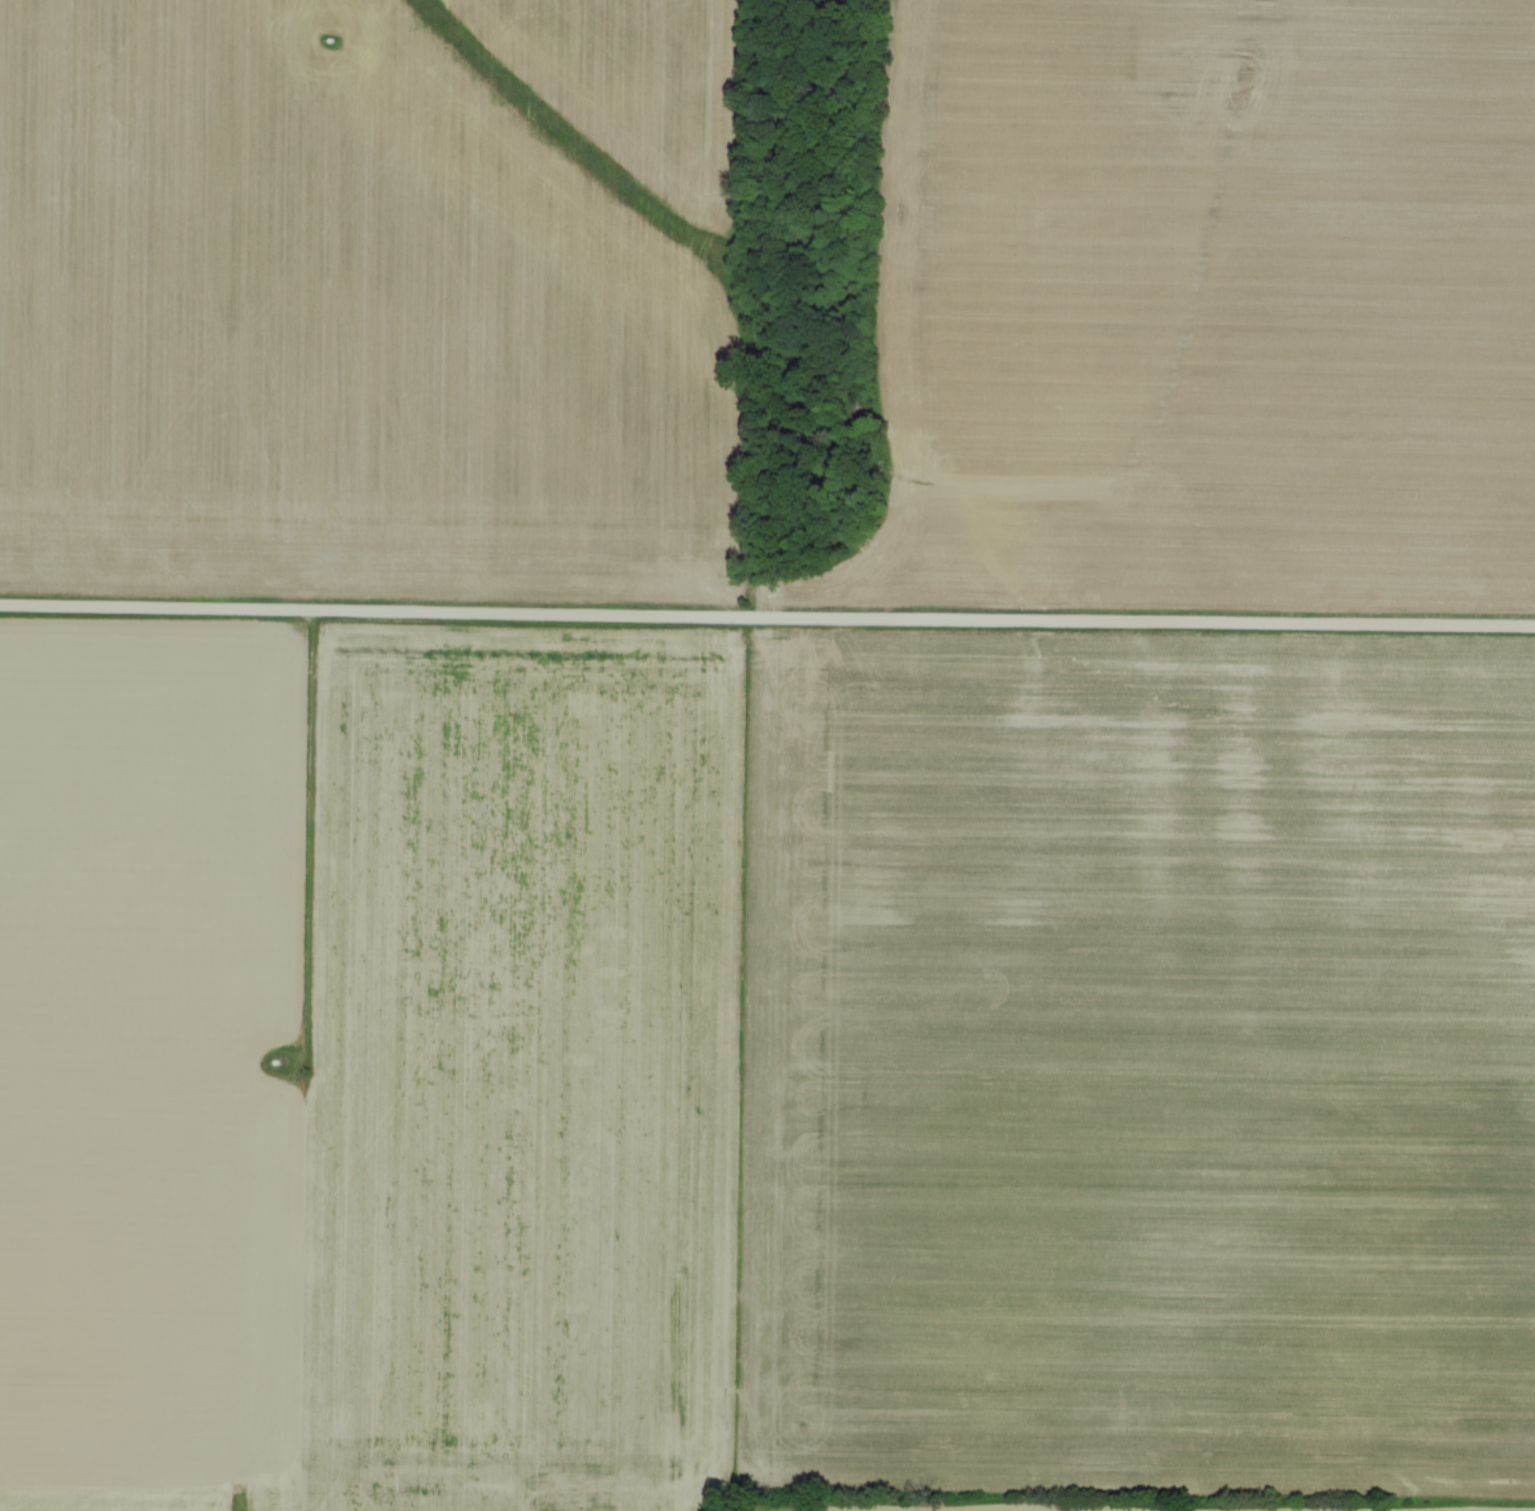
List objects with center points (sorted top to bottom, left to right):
road: (767, 612)

